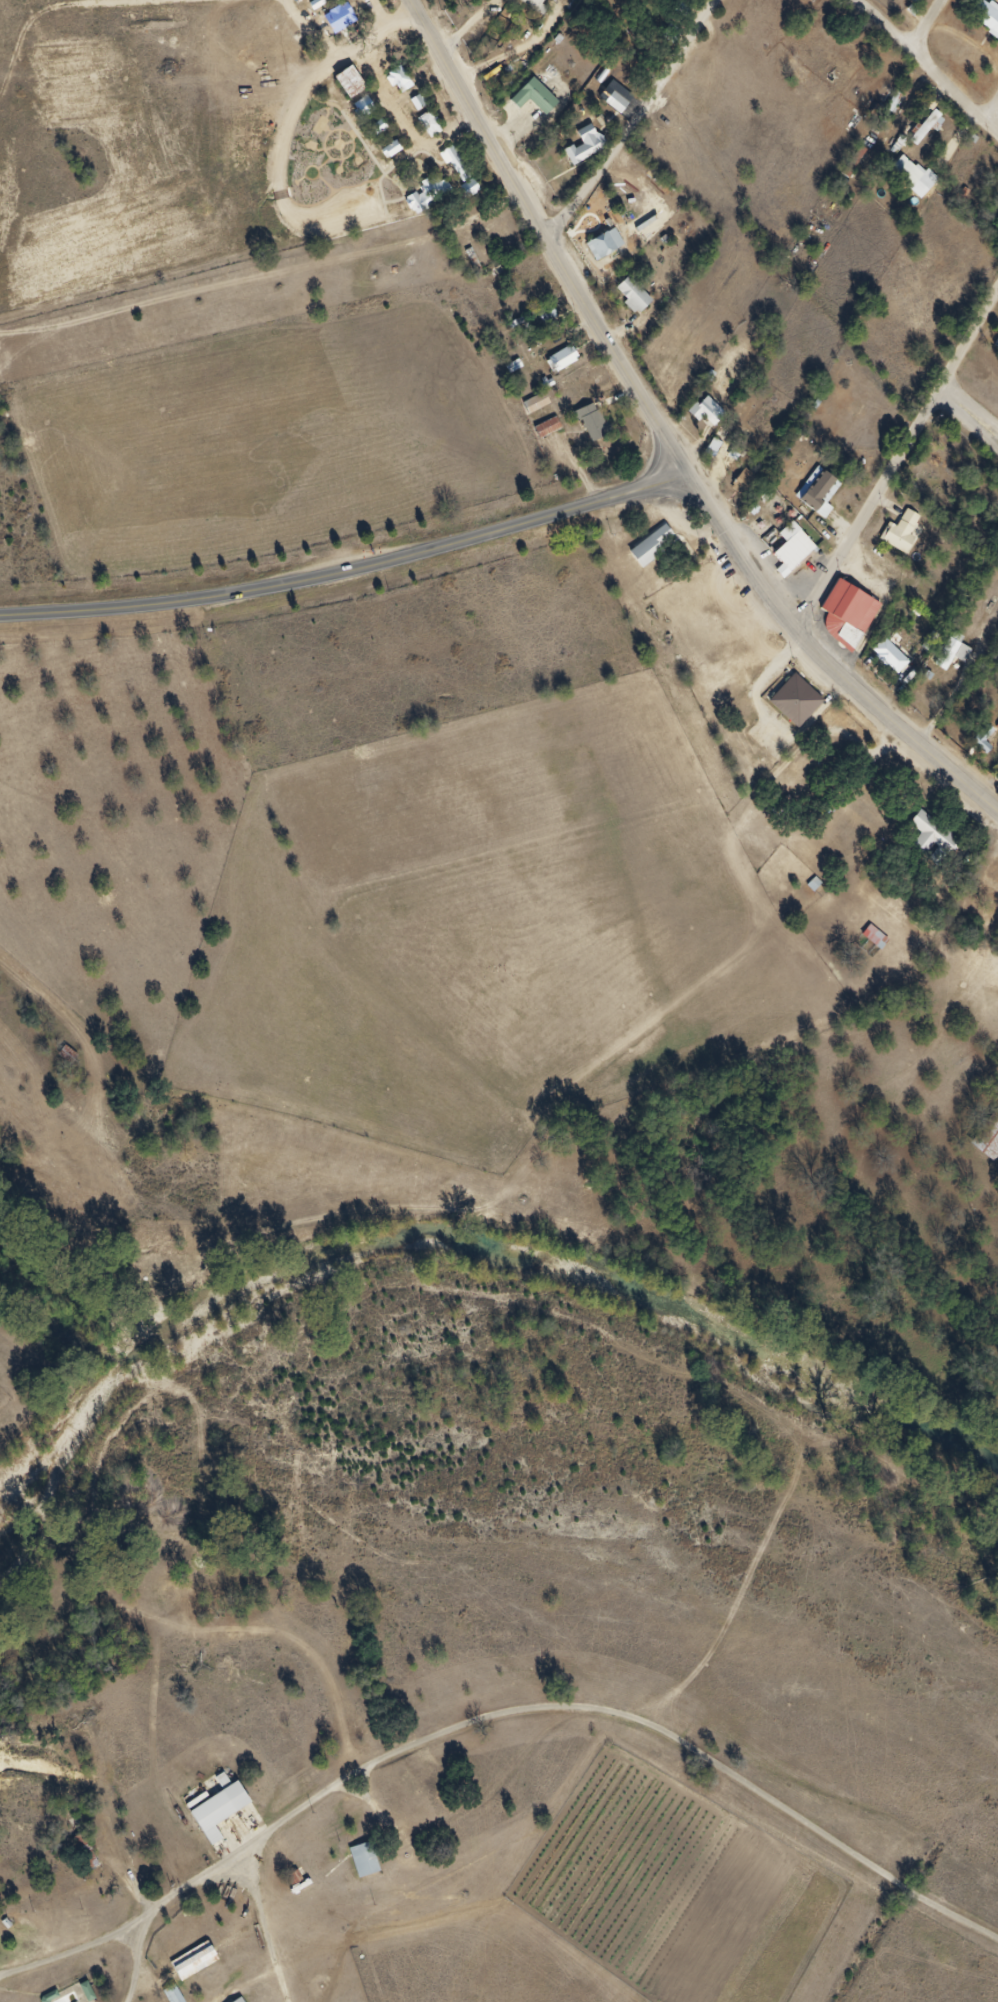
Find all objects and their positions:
road: (115, 2)
building: (908, 2)
building: (526, 5)
road: (377, 13)
building: (337, 20)
building: (986, 25)
road: (927, 27)
road: (311, 30)
road: (23, 34)
building: (828, 52)
road: (926, 73)
building: (397, 78)
building: (797, 79)
building: (346, 82)
building: (535, 93)
building: (618, 98)
building: (417, 102)
building: (362, 108)
building: (610, 108)
road: (989, 111)
building: (350, 114)
building: (428, 123)
road: (634, 123)
road: (288, 125)
building: (376, 127)
building: (423, 129)
building: (921, 132)
building: (584, 144)
building: (390, 149)
building: (451, 168)
building: (901, 176)
building: (464, 193)
building: (430, 194)
building: (606, 243)
building: (634, 294)
road: (592, 320)
building: (995, 337)
building: (517, 364)
building: (557, 364)
building: (538, 401)
road: (969, 405)
building: (529, 408)
building: (701, 415)
building: (594, 419)
road: (967, 420)
building: (549, 425)
building: (587, 428)
road: (895, 460)
building: (813, 496)
building: (895, 537)
building: (652, 544)
building: (792, 545)
road: (348, 567)
building: (849, 607)
building: (883, 661)
building: (794, 698)
road: (892, 726)
building: (925, 840)
building: (869, 942)
building: (985, 1143)
river: (588, 1275)
river: (85, 1287)
river: (90, 1396)
road: (464, 1726)
building: (212, 1817)
building: (80, 1860)
building: (358, 1865)
road: (149, 1918)
road: (261, 1924)
road: (69, 1957)
building: (187, 1966)
road: (136, 1970)
building: (78, 1995)
building: (164, 1997)

